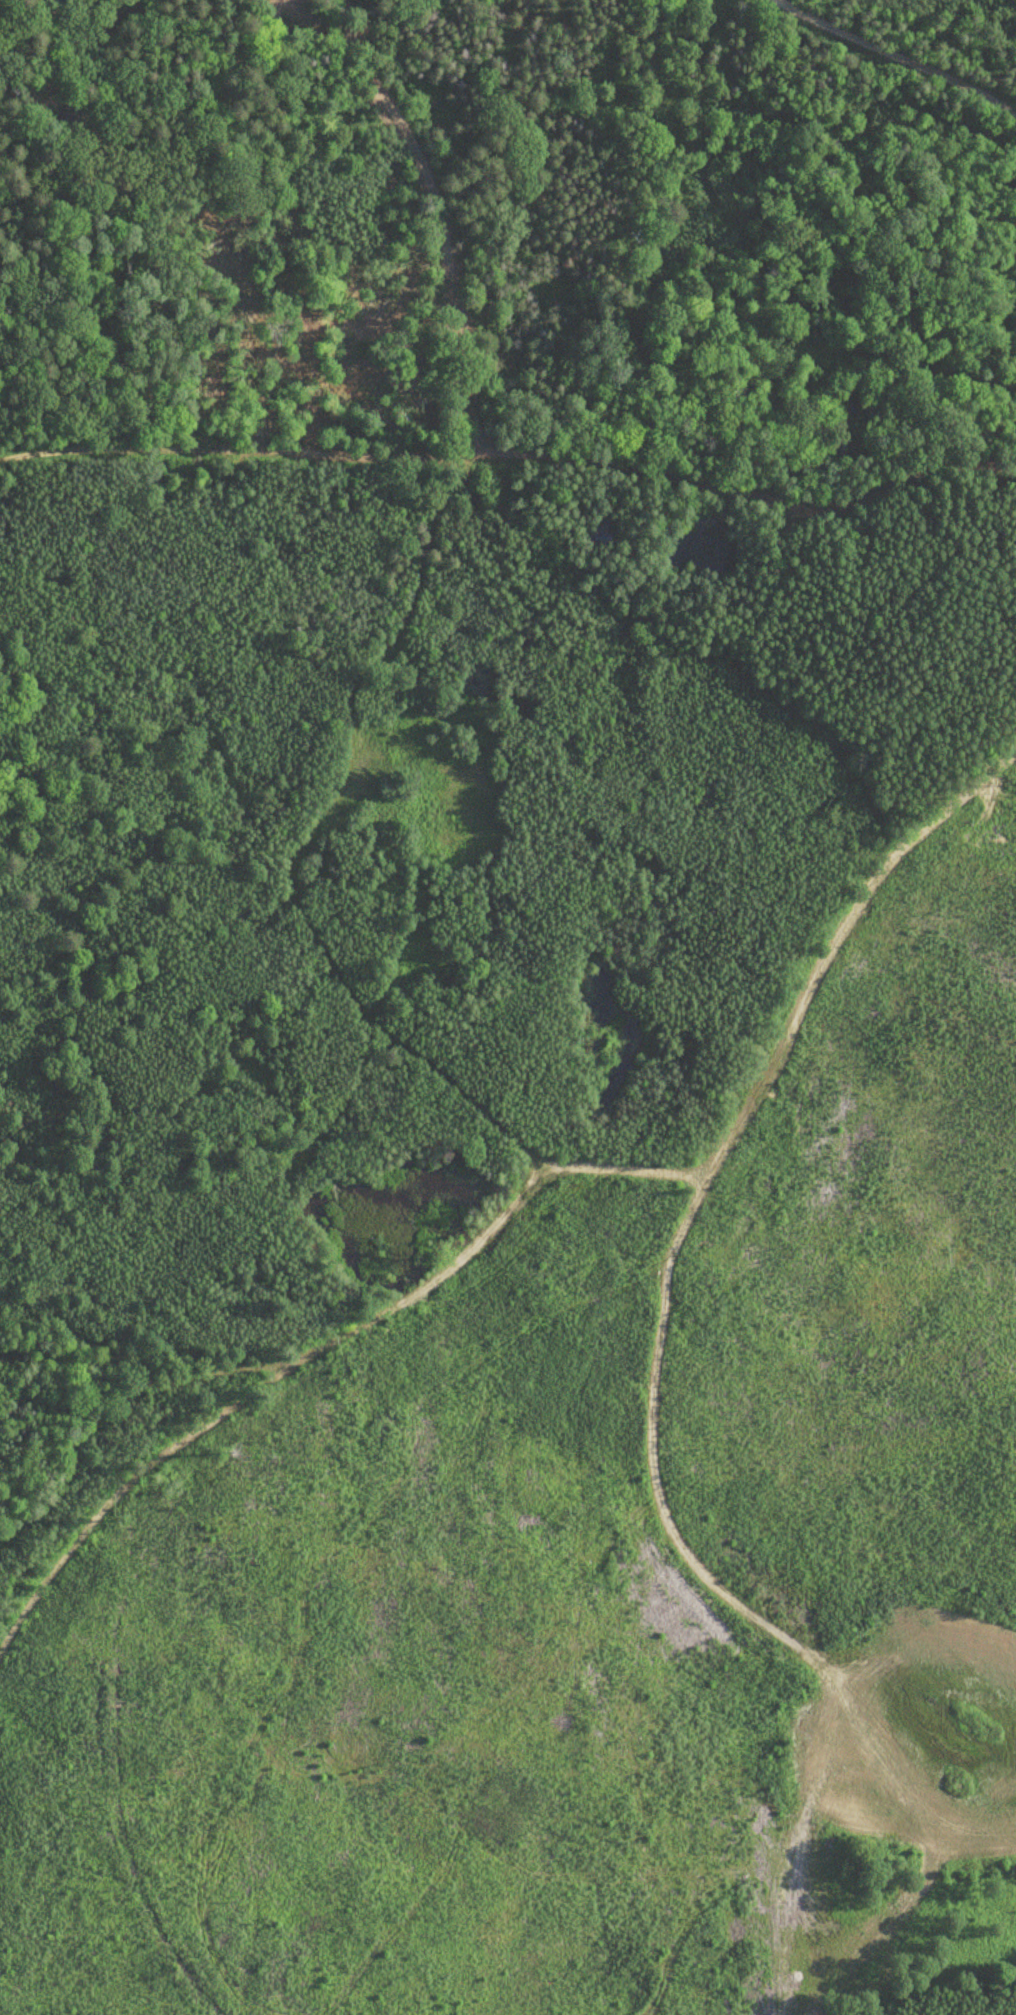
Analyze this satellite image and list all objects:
road: (92, 34)
road: (901, 55)
road: (469, 445)
road: (747, 488)
road: (299, 914)
road: (696, 1194)
road: (354, 1317)
road: (175, 1443)
road: (860, 1934)

